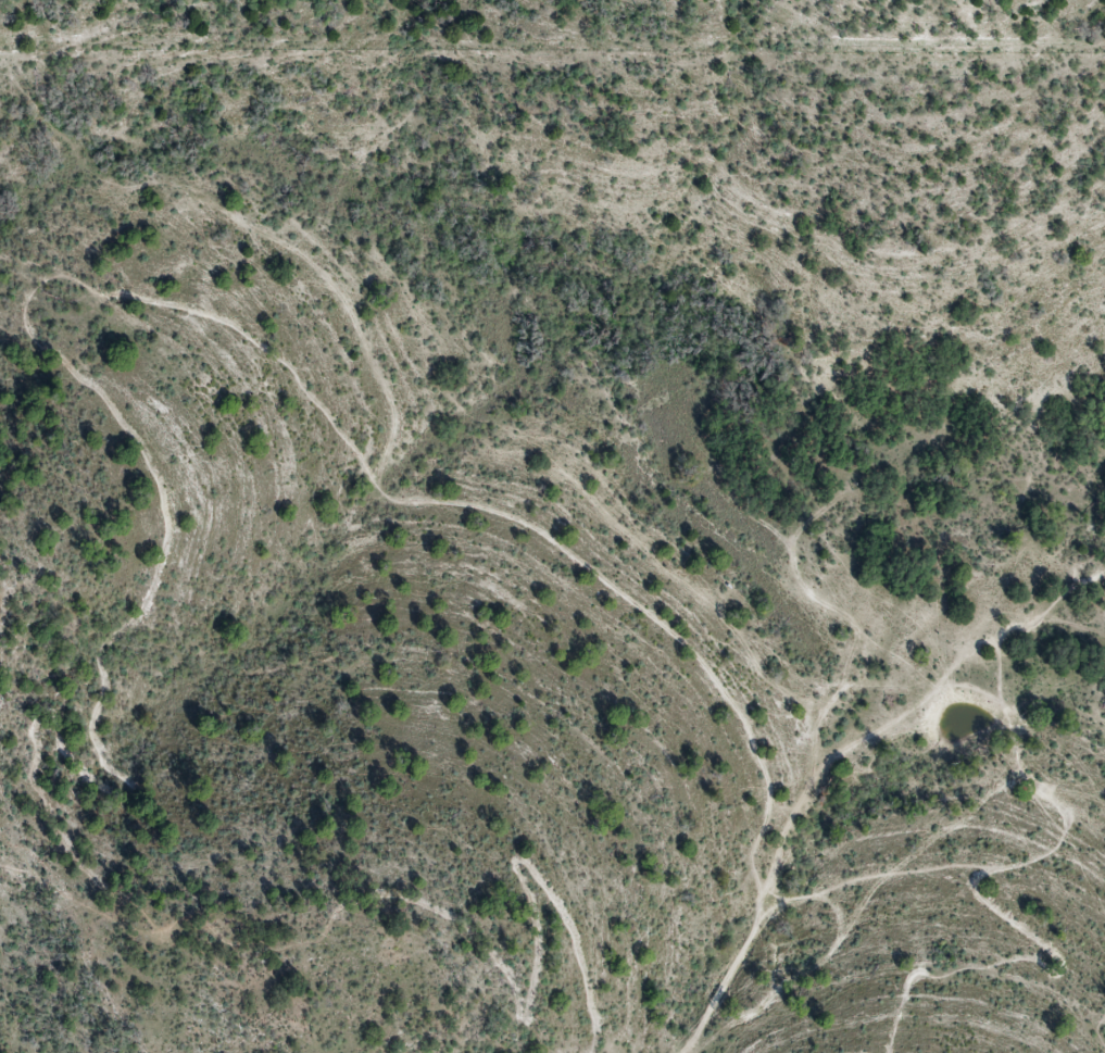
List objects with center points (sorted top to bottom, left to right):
road: (723, 993)

